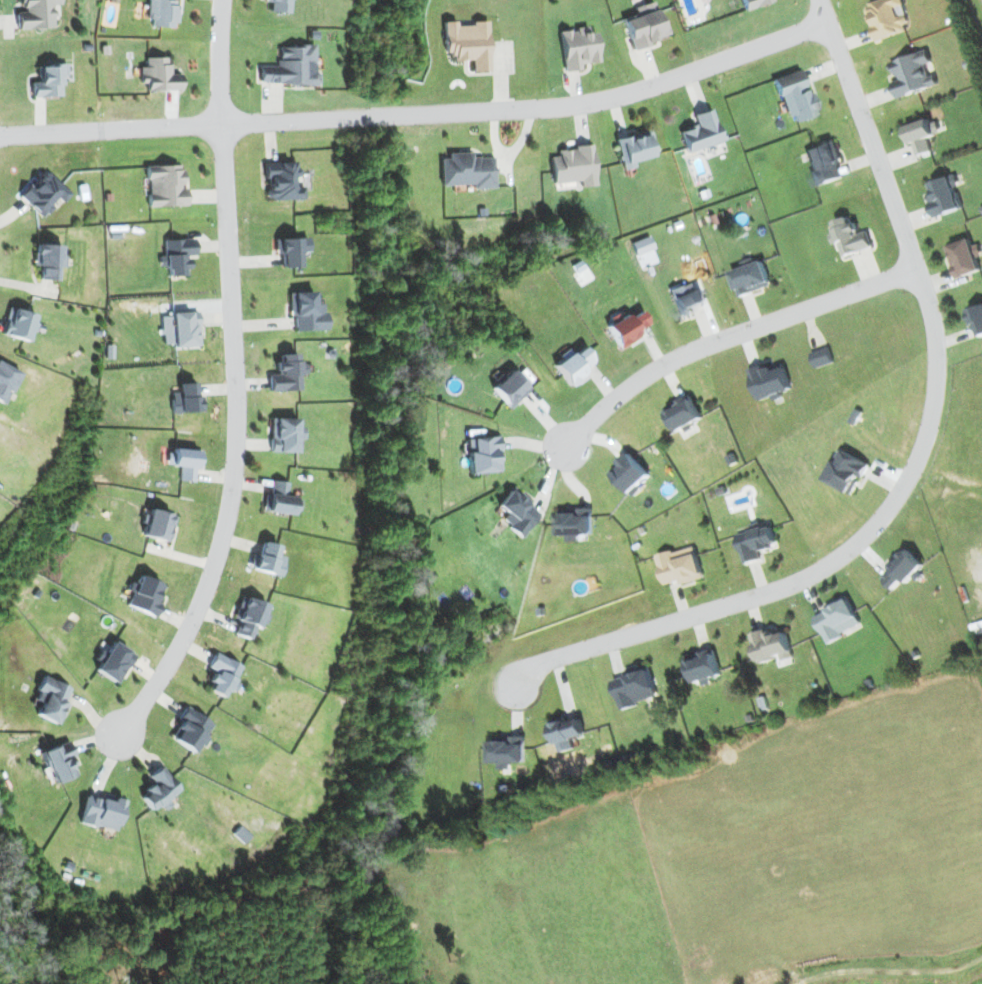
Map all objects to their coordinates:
building: (753, 3)
building: (280, 6)
building: (161, 13)
building: (35, 14)
building: (887, 18)
building: (644, 26)
building: (466, 43)
building: (577, 47)
road: (228, 61)
building: (292, 67)
building: (913, 74)
building: (158, 75)
building: (48, 81)
building: (794, 96)
road: (422, 114)
building: (701, 131)
building: (922, 134)
building: (632, 148)
building: (824, 162)
building: (573, 166)
building: (466, 170)
building: (283, 180)
building: (165, 186)
building: (43, 194)
building: (945, 196)
building: (851, 236)
building: (292, 251)
building: (177, 256)
building: (965, 257)
building: (47, 260)
building: (751, 278)
building: (685, 299)
building: (306, 311)
building: (975, 317)
building: (18, 324)
building: (626, 328)
building: (185, 329)
road: (731, 338)
building: (822, 357)
building: (572, 365)
building: (286, 373)
building: (6, 381)
building: (770, 381)
building: (508, 389)
building: (185, 399)
building: (684, 412)
building: (284, 434)
road: (238, 446)
road: (928, 454)
building: (483, 455)
building: (186, 463)
building: (846, 471)
building: (632, 473)
building: (281, 499)
building: (516, 511)
building: (575, 522)
building: (157, 525)
building: (756, 542)
building: (268, 559)
building: (682, 565)
building: (902, 567)
building: (144, 596)
building: (249, 616)
building: (838, 618)
building: (772, 645)
building: (113, 662)
building: (705, 666)
building: (222, 675)
building: (638, 686)
building: (50, 699)
building: (191, 730)
building: (569, 732)
building: (509, 750)
building: (58, 761)
building: (159, 789)
building: (100, 812)
building: (240, 834)

